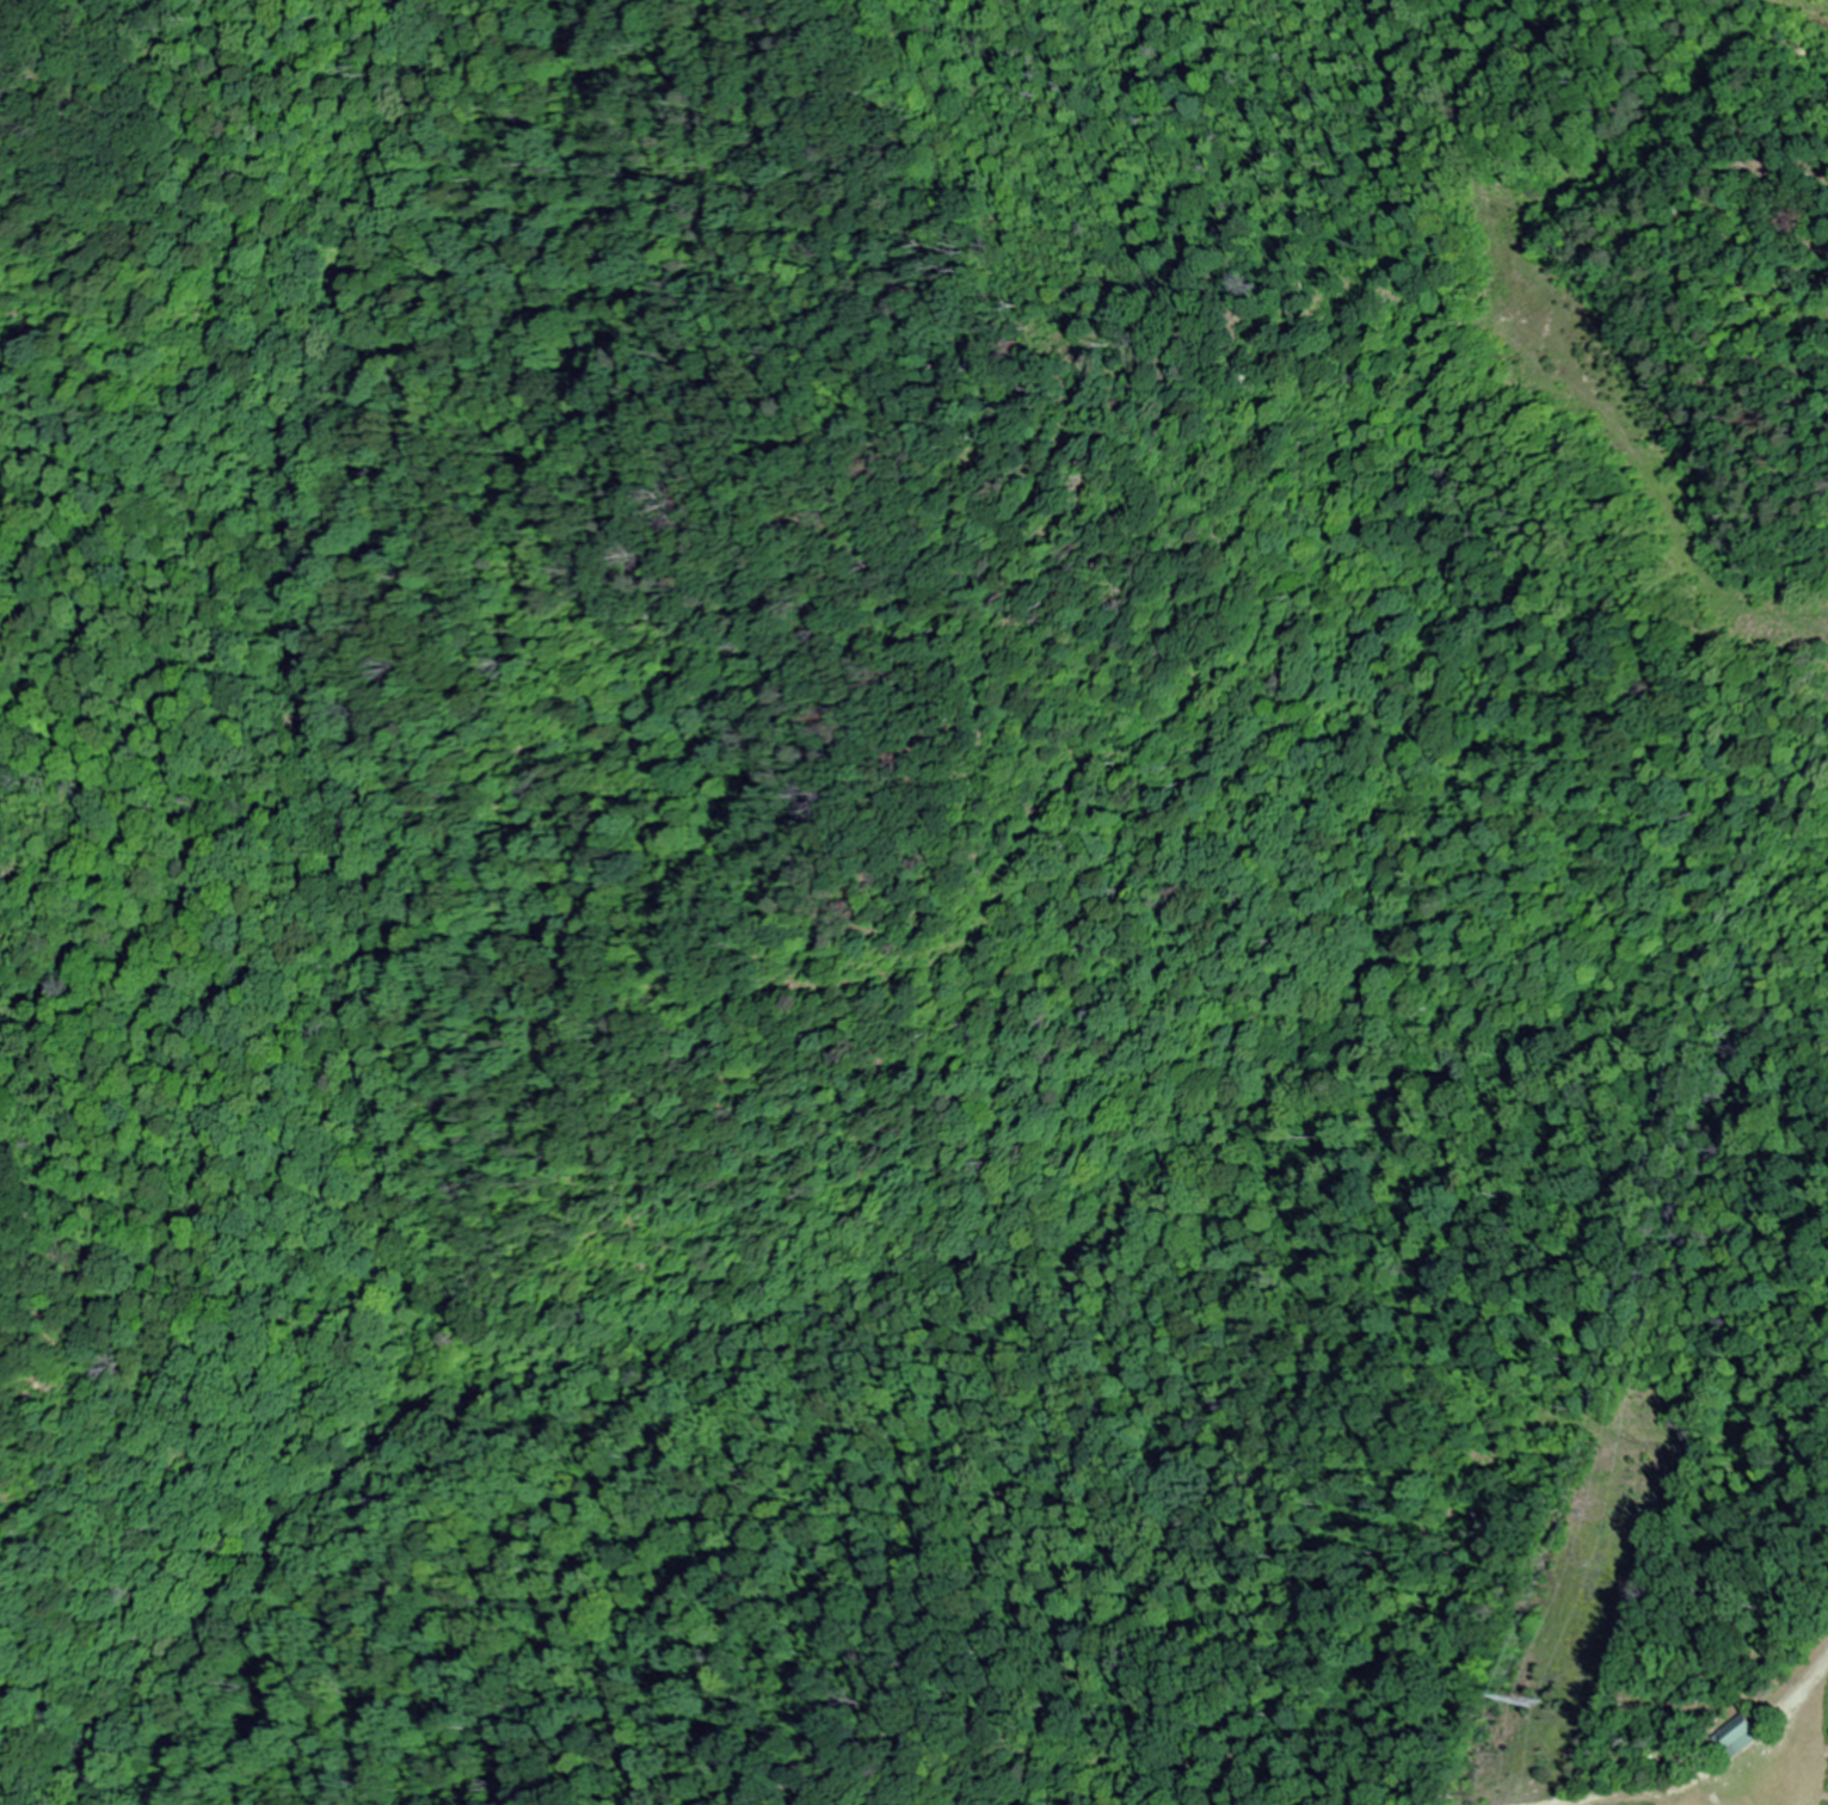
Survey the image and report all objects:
building: (1734, 1738)

